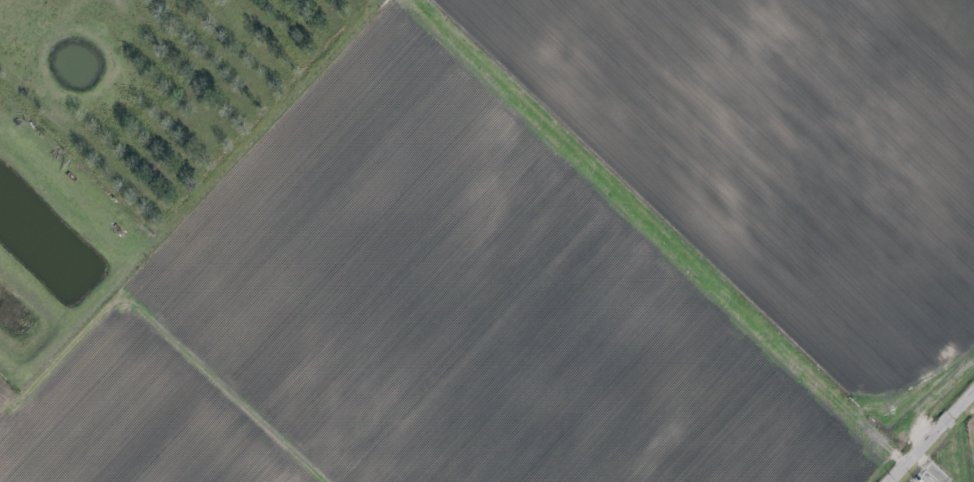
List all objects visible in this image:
road: (146, 352)
road: (932, 438)

